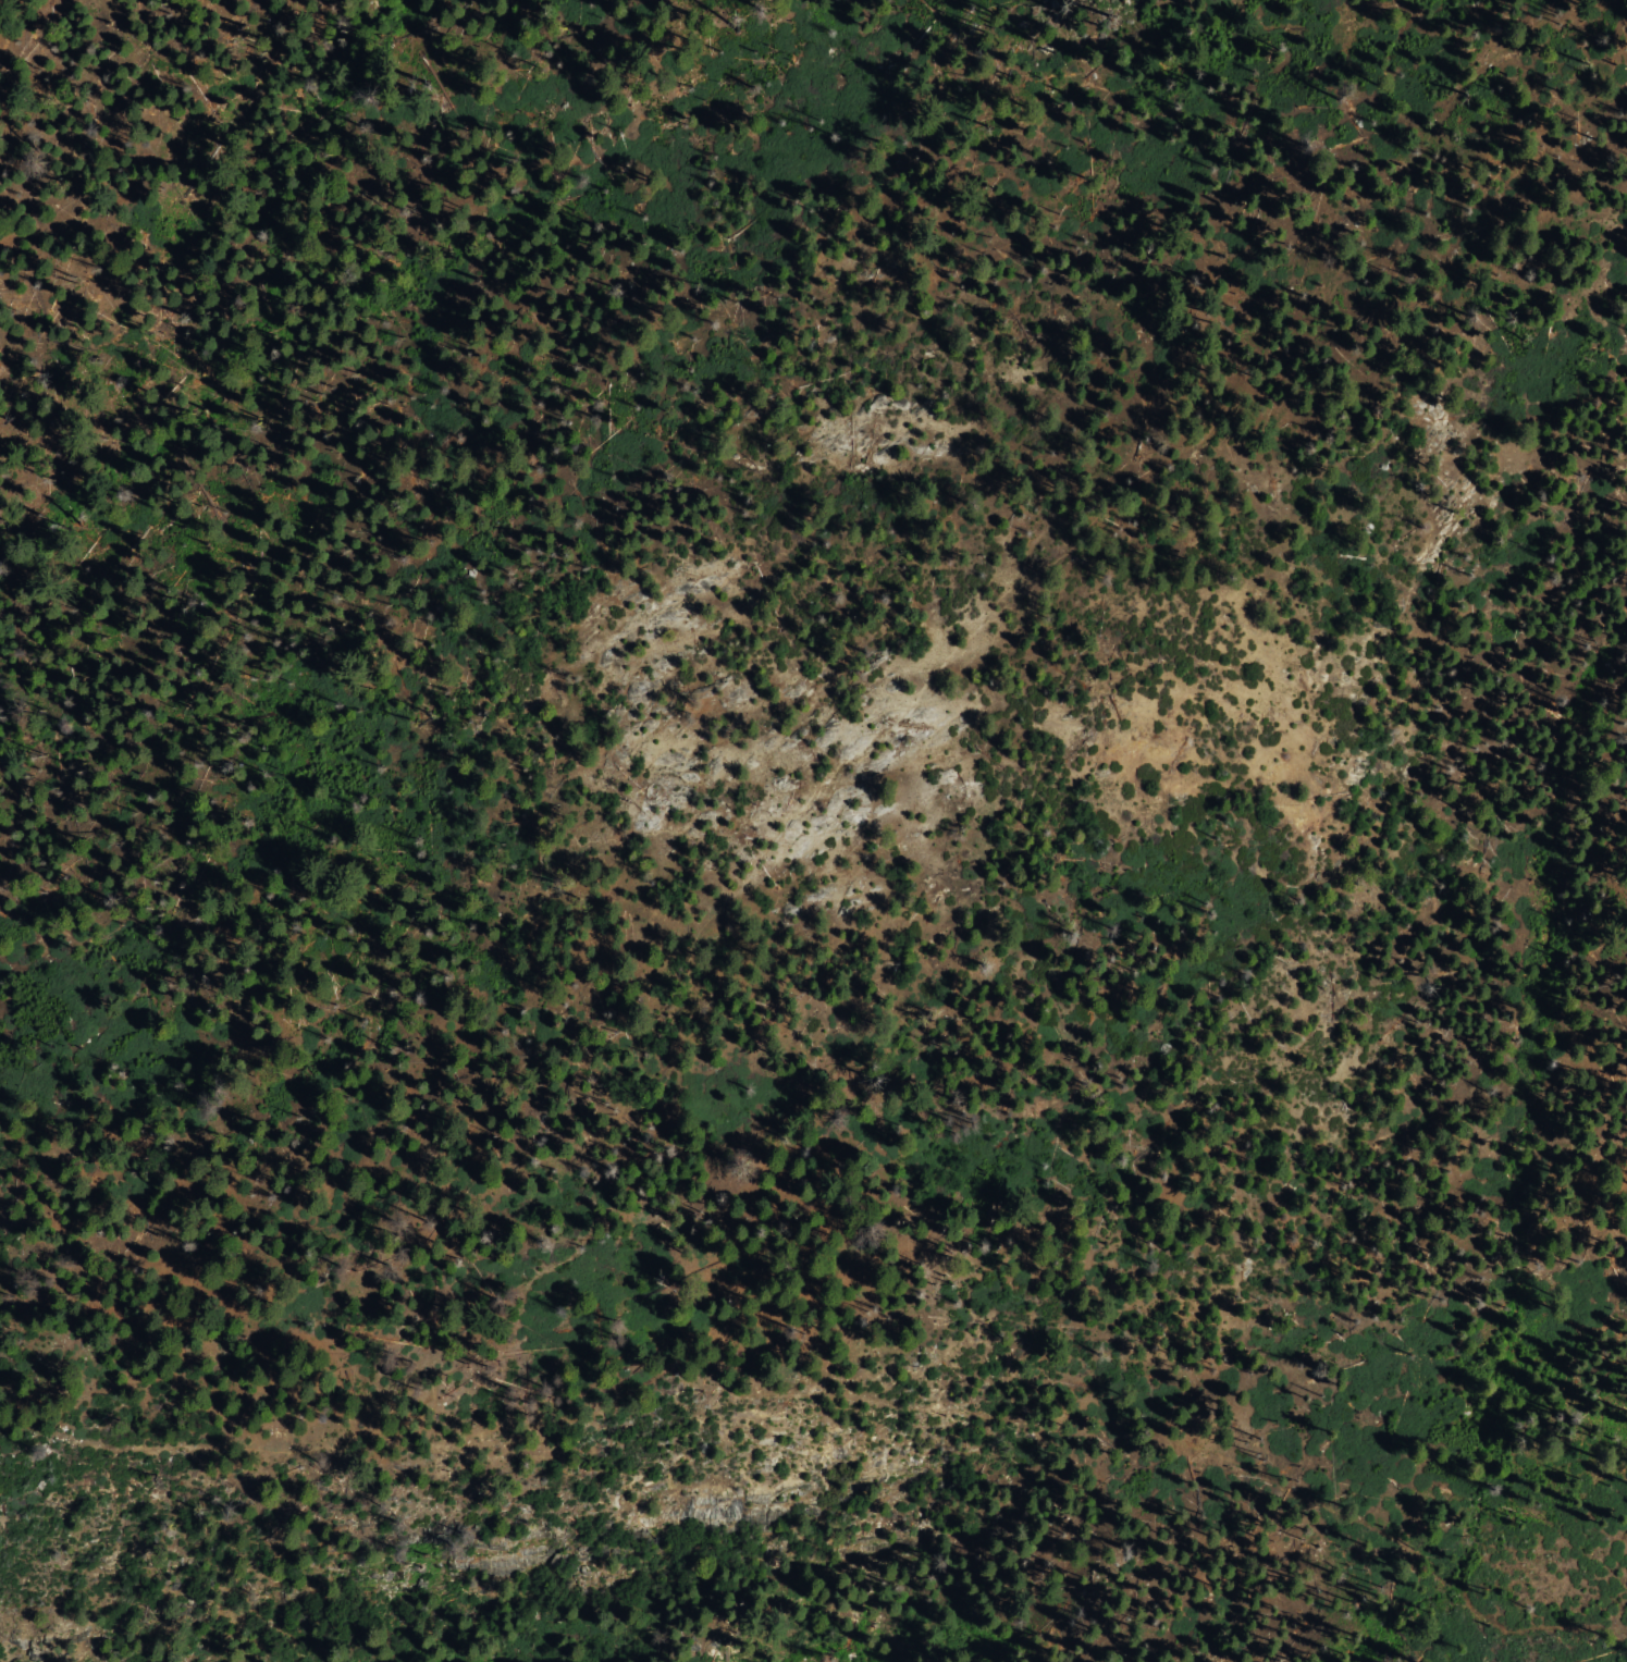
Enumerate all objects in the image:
road: (932, 680)
road: (1013, 1418)
road: (184, 1452)

